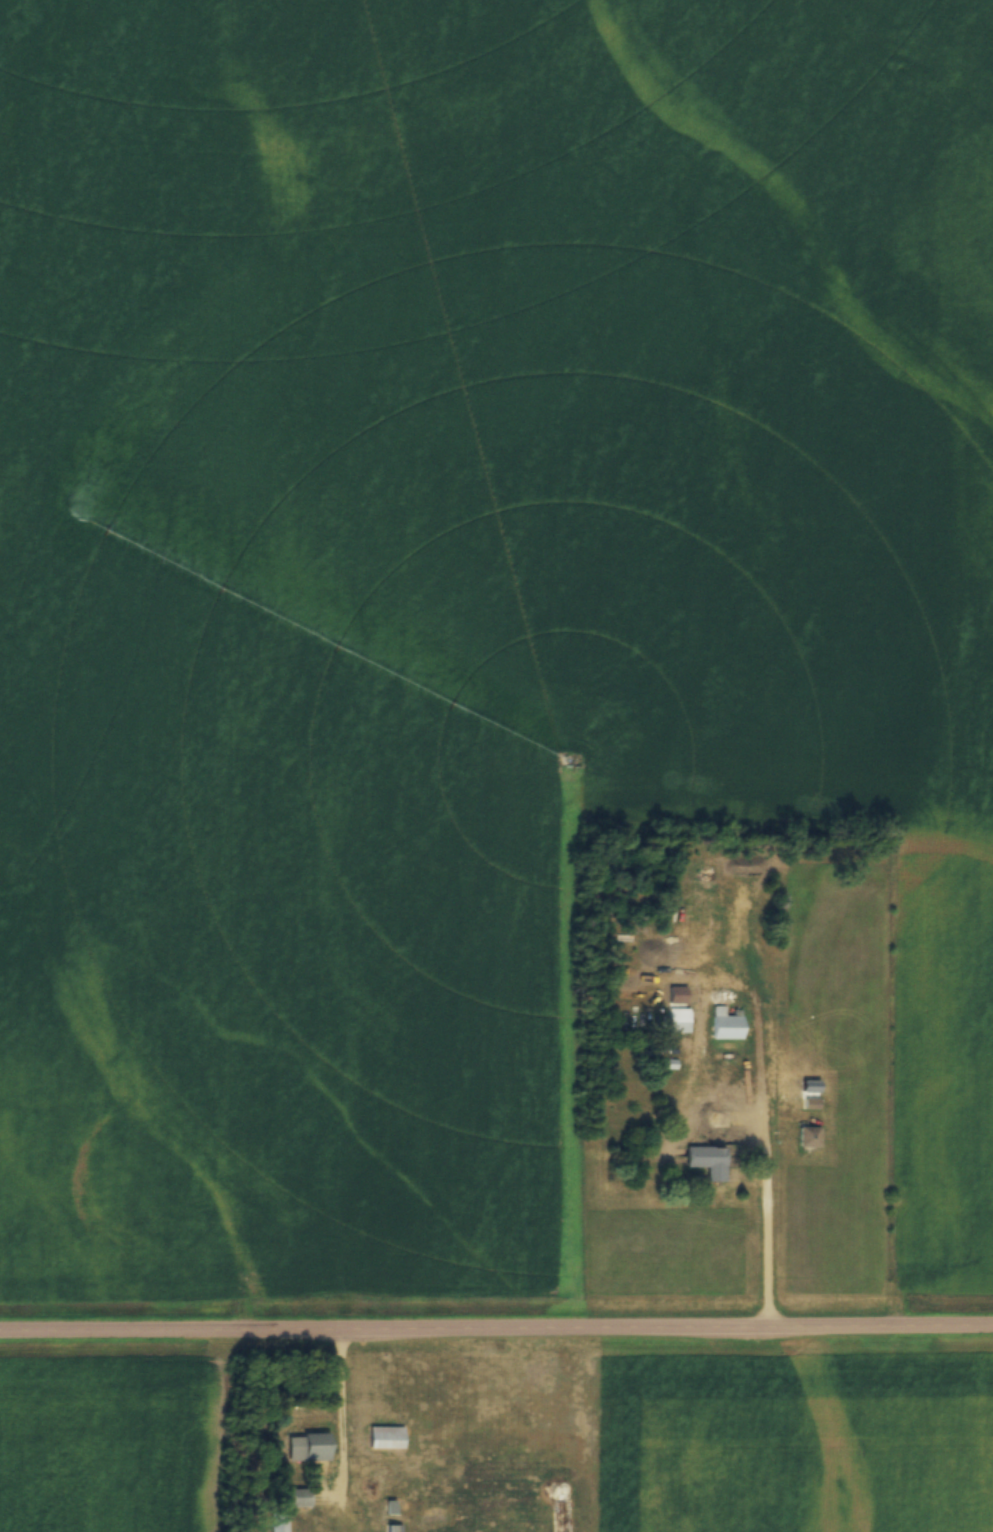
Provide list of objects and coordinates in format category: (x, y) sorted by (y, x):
building: (724, 1022)
building: (811, 1101)
building: (715, 1115)
building: (808, 1134)
building: (710, 1154)
road: (767, 1180)
road: (496, 1327)
building: (383, 1435)
building: (294, 1442)
building: (301, 1495)

